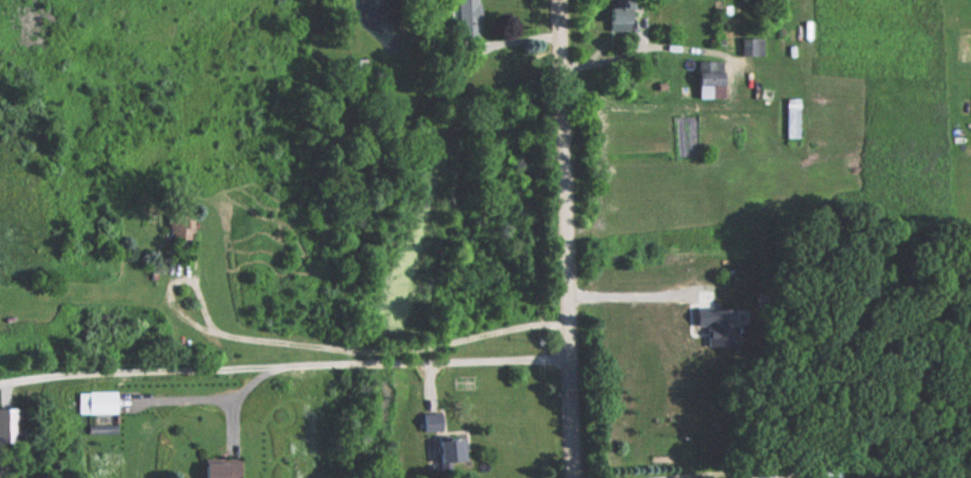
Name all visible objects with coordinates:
building: (616, 11)
building: (467, 17)
road: (630, 51)
building: (708, 79)
building: (791, 117)
building: (178, 229)
road: (561, 239)
road: (629, 295)
road: (372, 345)
road: (303, 362)
road: (21, 379)
road: (245, 389)
building: (95, 401)
building: (430, 420)
building: (450, 448)
building: (219, 467)
road: (721, 475)

